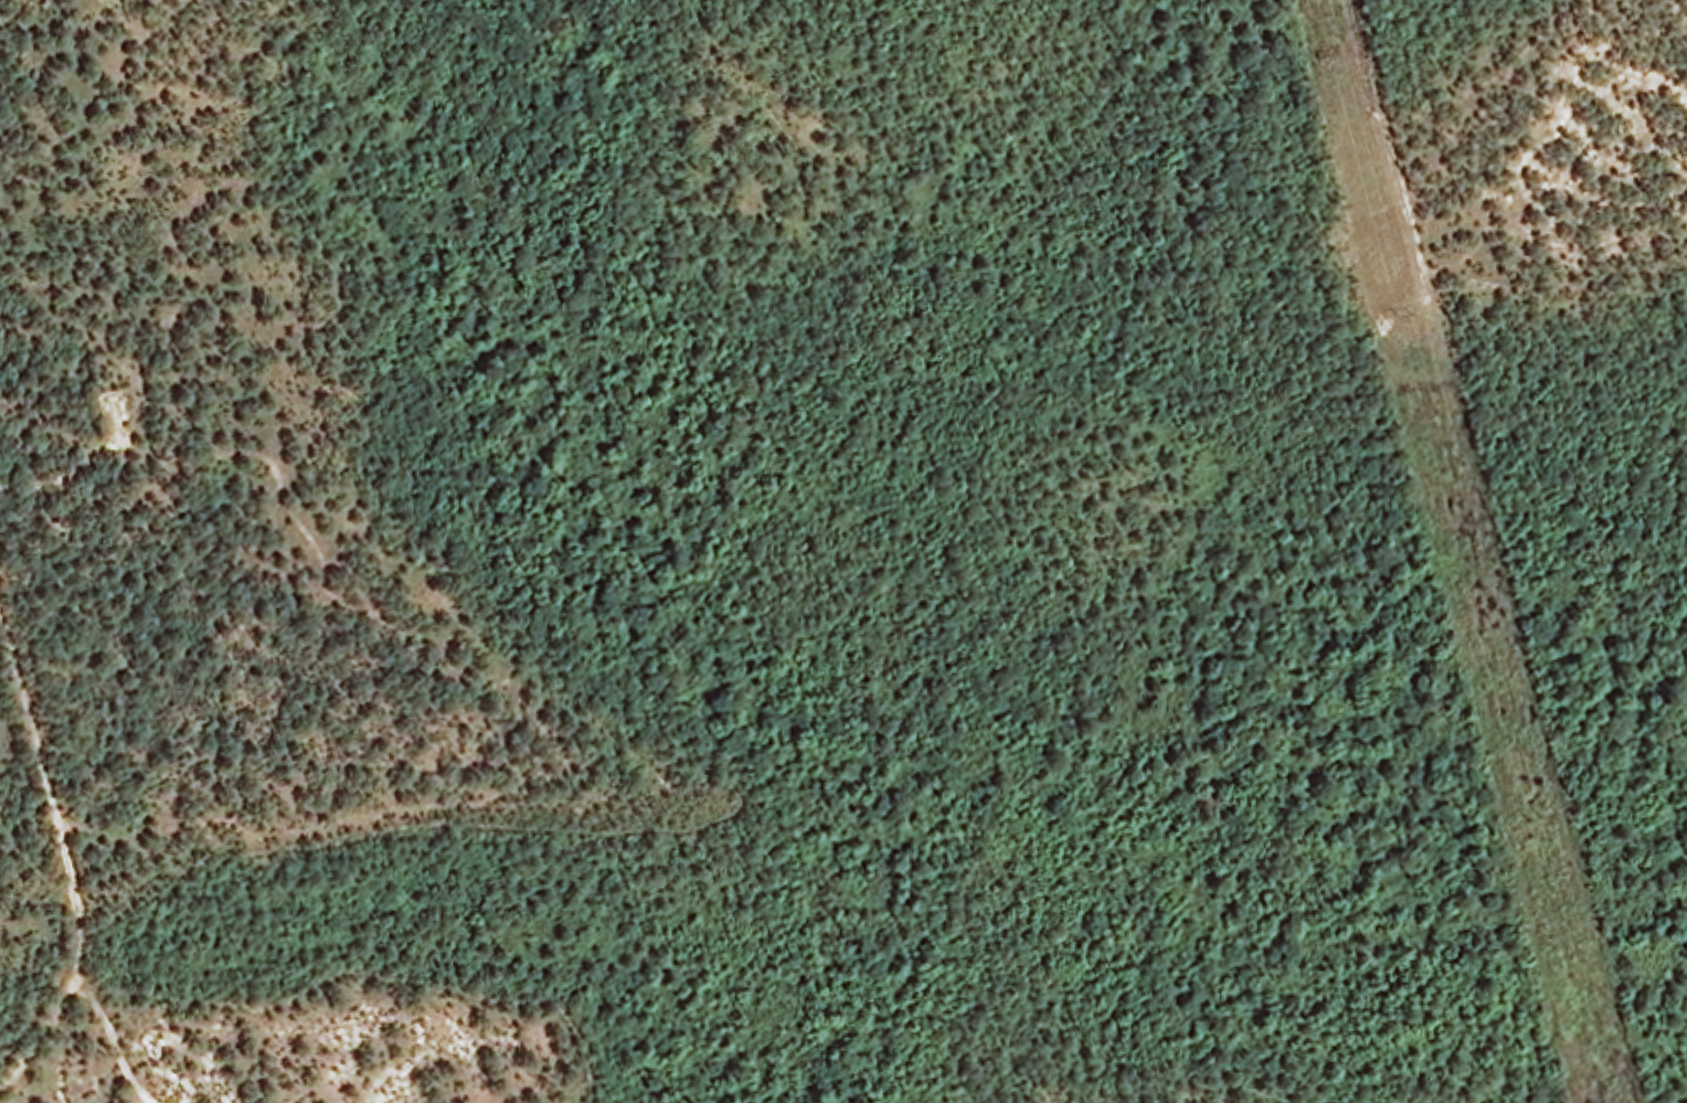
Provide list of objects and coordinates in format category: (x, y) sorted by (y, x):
power tower: (1400, 312)

